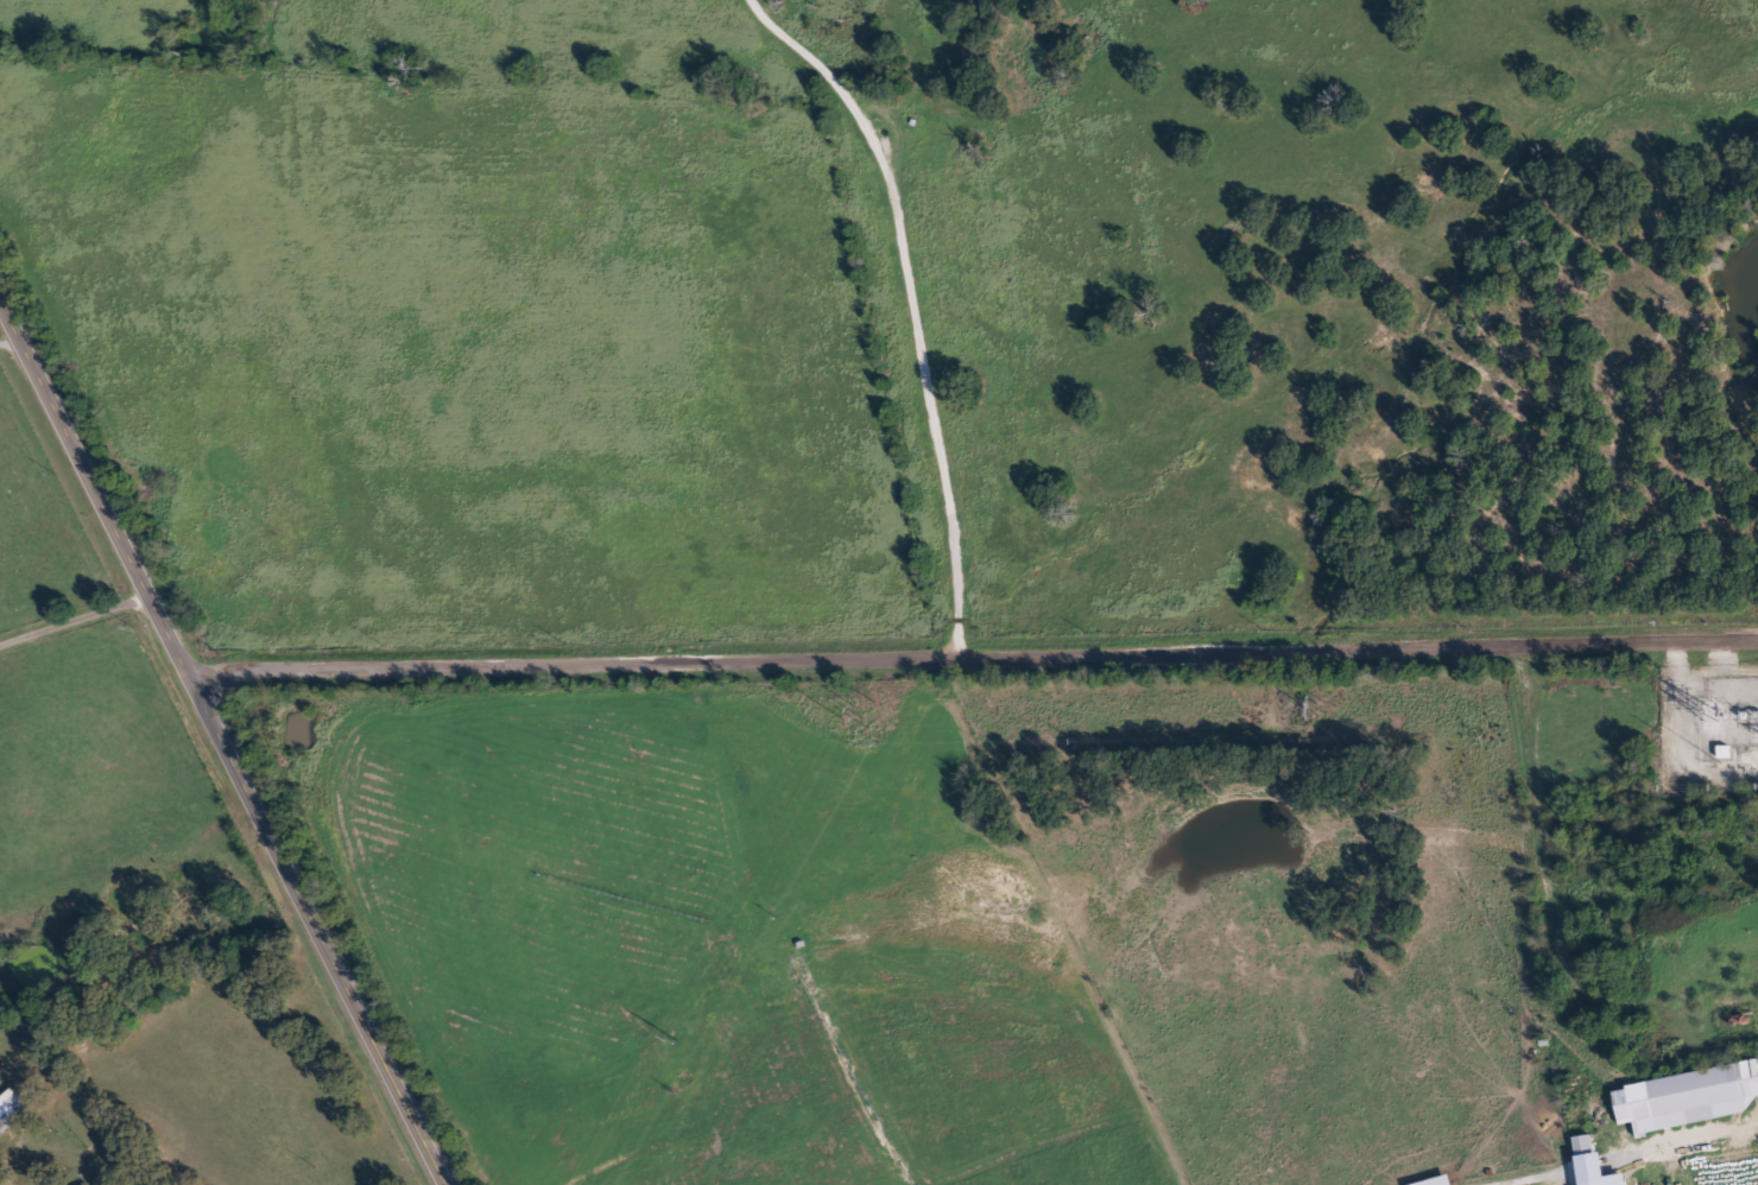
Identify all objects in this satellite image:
road: (968, 648)
road: (221, 744)
building: (1690, 1098)
building: (12, 1110)
building: (1596, 1164)
building: (1443, 1181)

